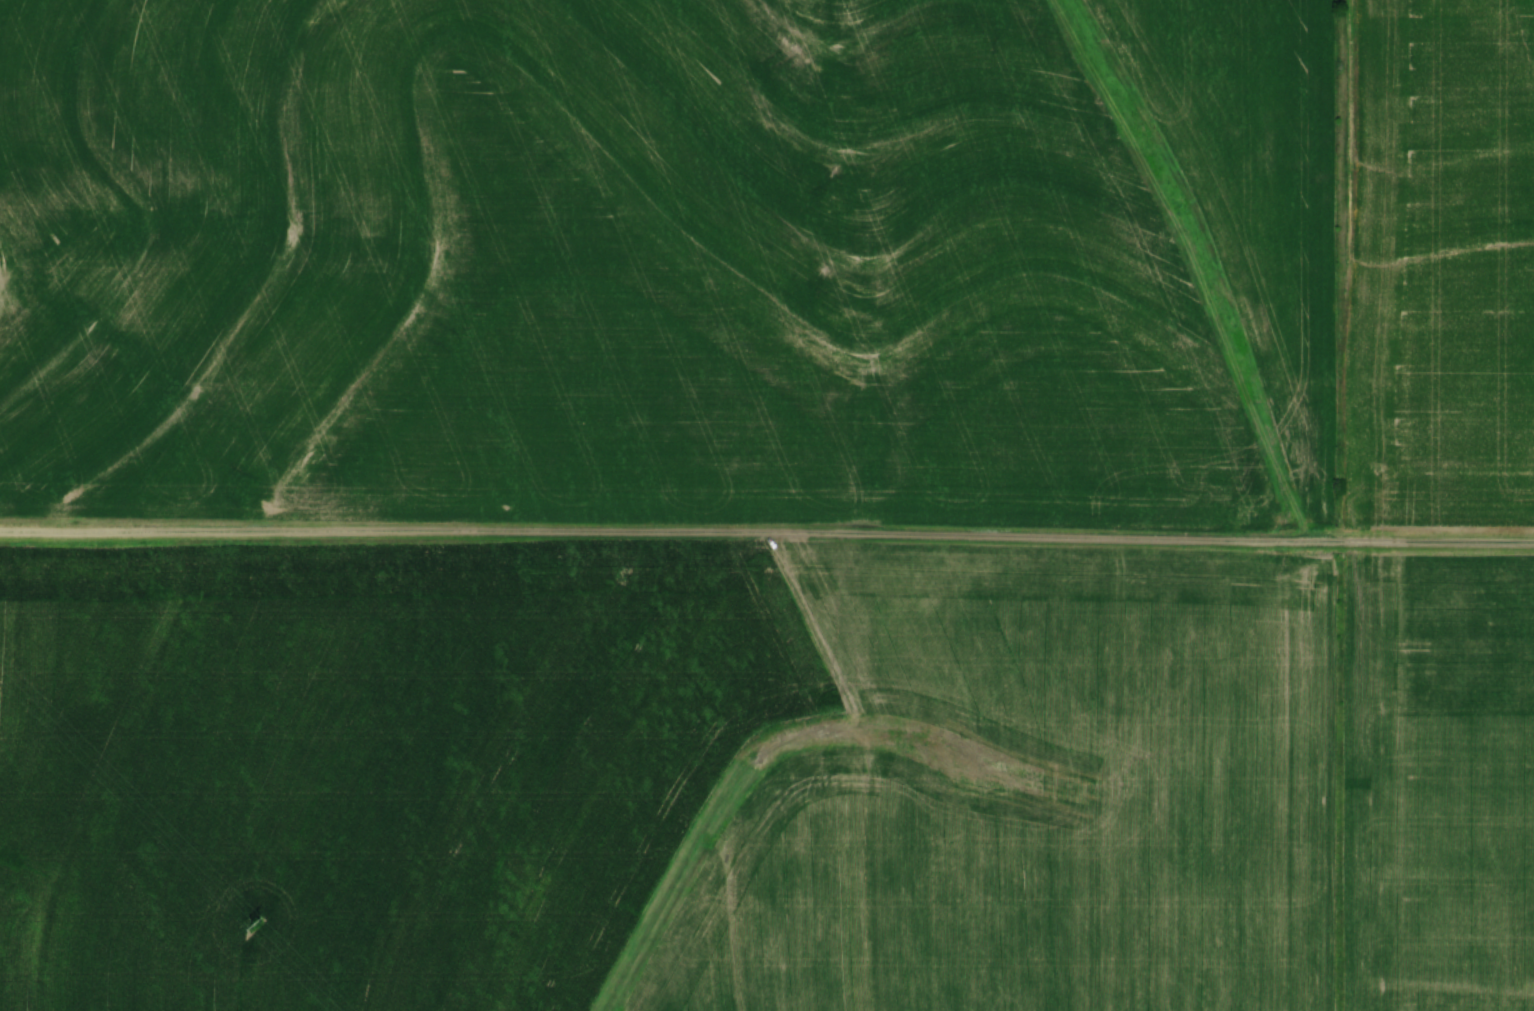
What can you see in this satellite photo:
road: (767, 533)
power tower: (254, 922)

